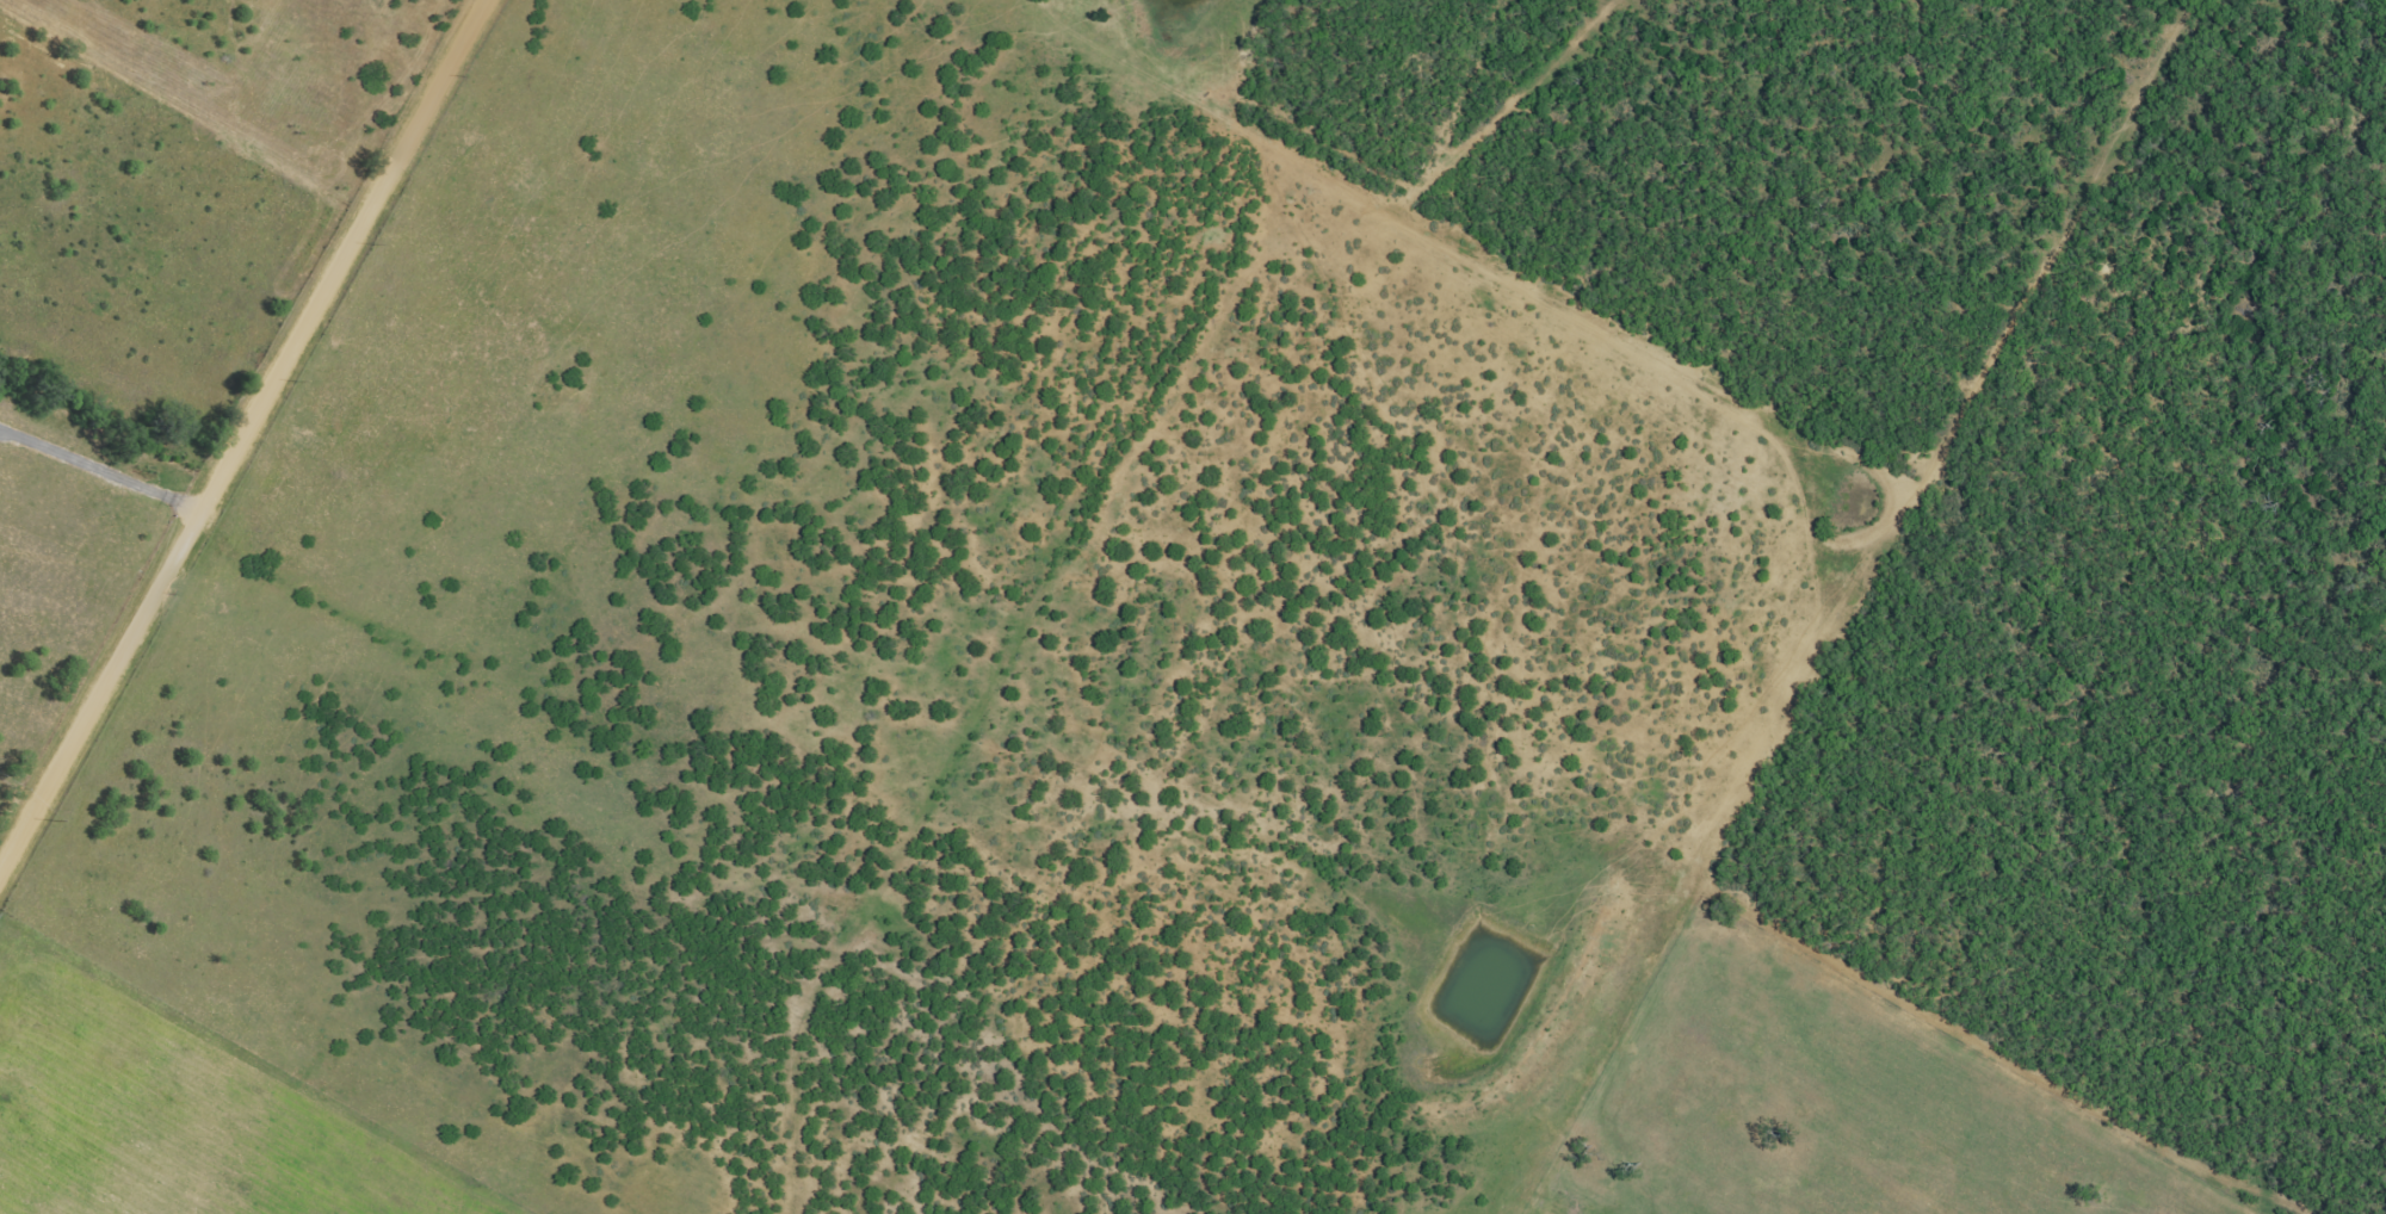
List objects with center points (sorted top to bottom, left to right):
road: (245, 436)

